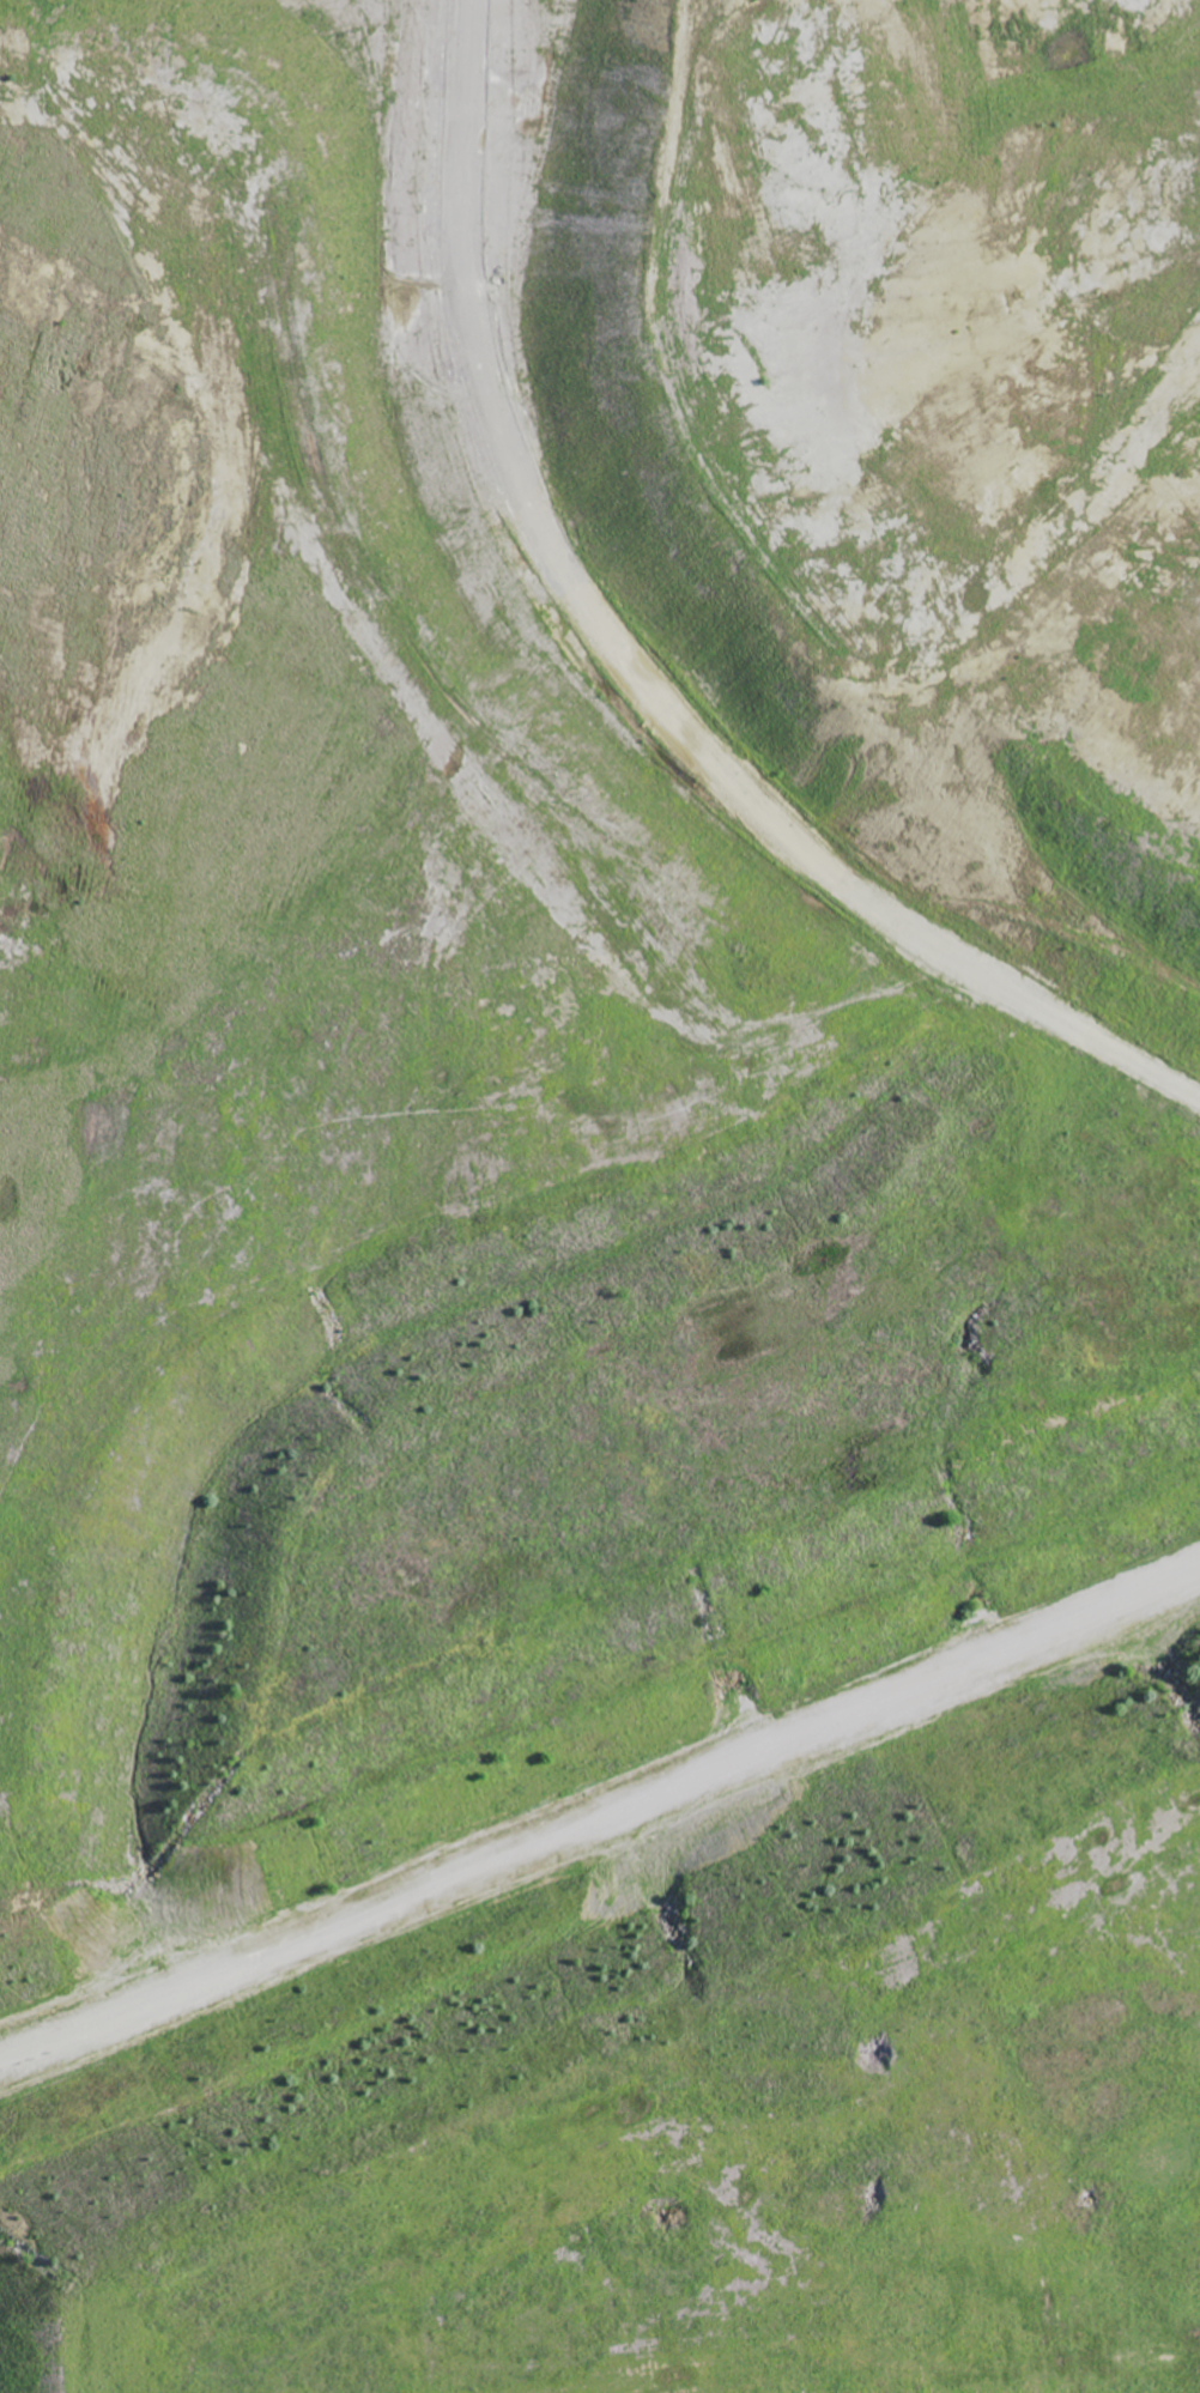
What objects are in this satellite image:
quarry: (575, 970)
road: (614, 1872)

